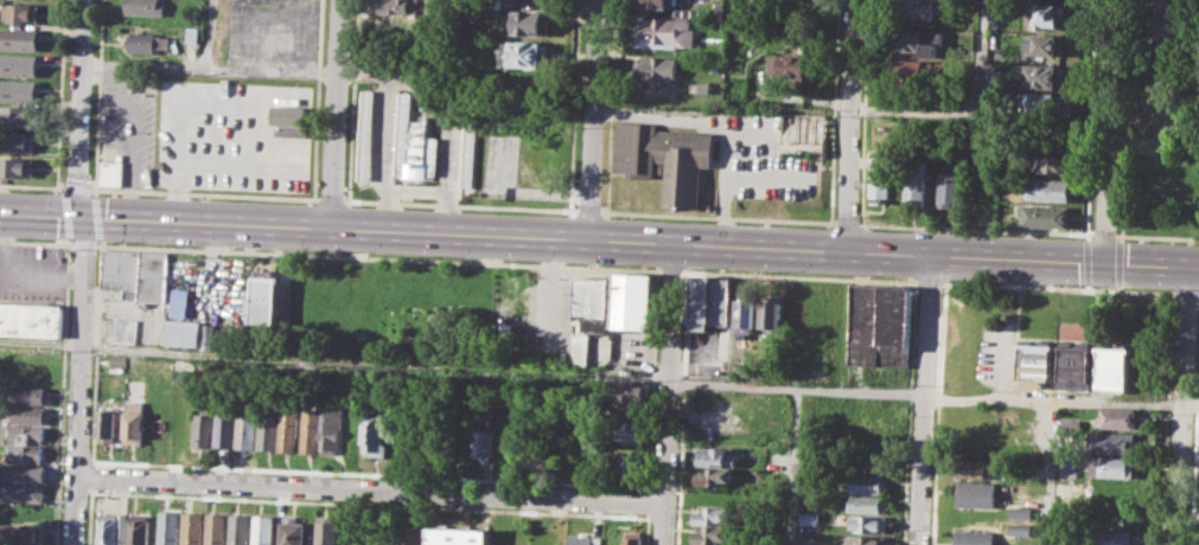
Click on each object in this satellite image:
building: (662, 2)
building: (390, 6)
building: (1166, 6)
building: (147, 7)
building: (917, 11)
building: (23, 13)
building: (1044, 15)
building: (528, 21)
building: (1168, 27)
parking lot: (274, 32)
building: (667, 32)
building: (192, 34)
road: (209, 34)
building: (19, 38)
building: (919, 40)
building: (148, 41)
building: (1042, 45)
building: (523, 53)
building: (18, 64)
building: (792, 64)
road: (210, 68)
building: (658, 69)
building: (921, 72)
building: (1044, 76)
building: (18, 90)
road: (59, 92)
road: (96, 96)
road: (317, 98)
road: (352, 98)
building: (1045, 103)
road: (573, 104)
road: (610, 105)
road: (79, 108)
road: (970, 110)
road: (833, 111)
road: (863, 113)
road: (336, 114)
building: (289, 115)
building: (20, 116)
road: (1088, 116)
road: (1124, 117)
road: (435, 120)
parking lot: (129, 121)
road: (591, 121)
road: (852, 126)
road: (1106, 130)
building: (368, 133)
building: (1055, 139)
building: (18, 141)
building: (414, 143)
building: (468, 150)
building: (664, 158)
building: (1053, 163)
building: (15, 166)
building: (113, 171)
building: (917, 180)
building: (881, 184)
road: (32, 186)
road: (76, 186)
road: (58, 187)
building: (950, 188)
building: (1046, 188)
road: (205, 193)
road: (333, 199)
road: (461, 204)
road: (589, 211)
road: (63, 213)
building: (1044, 214)
traffic signals: (83, 216)
road: (718, 217)
road: (846, 223)
road: (96, 229)
road: (975, 229)
road: (1104, 235)
road: (1083, 236)
road: (1156, 237)
road: (1118, 238)
road: (37, 239)
road: (599, 242)
road: (1084, 261)
road: (486, 262)
road: (1117, 262)
parking lot: (33, 270)
road: (658, 270)
road: (671, 270)
building: (139, 271)
road: (798, 276)
road: (925, 282)
road: (1013, 286)
road: (1103, 289)
road: (1144, 291)
road: (1186, 293)
road: (1198, 294)
building: (633, 299)
building: (721, 300)
building: (268, 301)
building: (701, 302)
building: (772, 312)
building: (591, 314)
building: (746, 318)
building: (32, 320)
building: (865, 323)
building: (894, 325)
building: (127, 329)
building: (186, 332)
building: (211, 335)
road: (40, 341)
building: (120, 363)
building: (1035, 363)
building: (1074, 365)
building: (1112, 365)
road: (374, 366)
building: (742, 367)
road: (81, 379)
road: (732, 385)
road: (62, 391)
building: (631, 393)
building: (31, 395)
road: (665, 395)
road: (923, 399)
road: (1061, 399)
road: (796, 403)
road: (1181, 404)
road: (681, 408)
road: (908, 412)
building: (30, 413)
road: (937, 413)
building: (1117, 417)
road: (1165, 418)
building: (136, 421)
building: (109, 424)
building: (1070, 424)
building: (225, 427)
building: (289, 427)
building: (204, 428)
building: (248, 429)
building: (268, 429)
building: (310, 429)
building: (331, 429)
building: (23, 431)
building: (372, 432)
building: (631, 432)
building: (483, 435)
building: (1112, 441)
building: (585, 447)
road: (1194, 447)
building: (26, 453)
building: (715, 455)
building: (1069, 462)
building: (629, 463)
building: (1112, 467)
road: (262, 468)
building: (978, 468)
building: (23, 472)
road: (1050, 472)
road: (91, 474)
building: (716, 475)
building: (868, 483)
road: (369, 490)
building: (23, 493)
building: (977, 493)
building: (809, 495)
building: (716, 496)
road: (646, 502)
road: (365, 504)
building: (867, 504)
building: (1022, 511)
building: (715, 515)
road: (89, 518)
building: (809, 518)
building: (869, 524)
building: (170, 527)
building: (193, 527)
building: (111, 528)
building: (140, 528)
building: (216, 528)
building: (240, 528)
building: (263, 528)
road: (645, 528)
building: (1021, 528)
building: (326, 530)
building: (293, 531)
building: (23, 532)
building: (412, 534)
building: (713, 534)
building: (458, 536)
building: (976, 537)
building: (1111, 537)
building: (632, 538)
building: (585, 539)
building: (866, 539)

